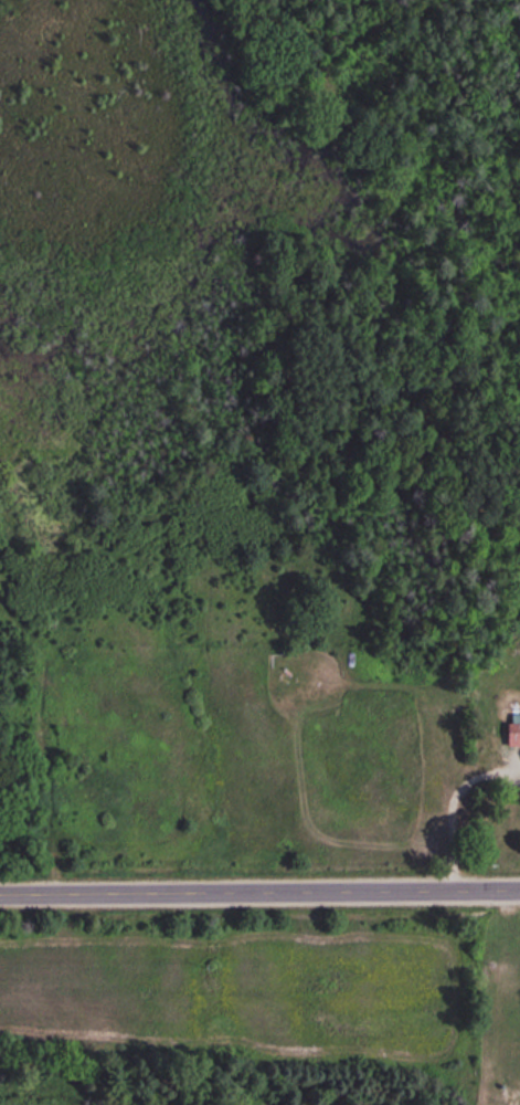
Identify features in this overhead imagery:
building: (512, 733)
road: (259, 891)

